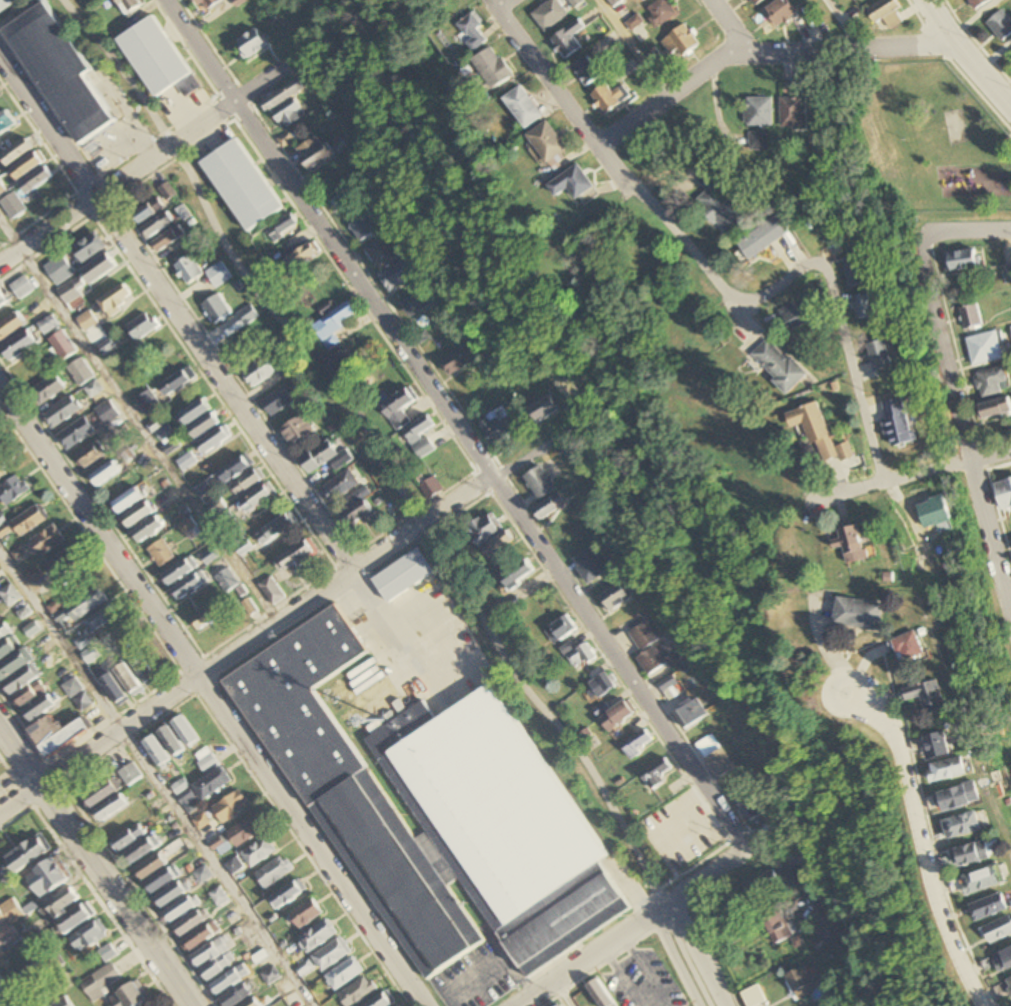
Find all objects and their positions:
building: (757, 2)
road: (498, 3)
building: (575, 3)
building: (980, 3)
building: (206, 4)
building: (6, 5)
building: (128, 5)
building: (661, 12)
building: (782, 12)
building: (887, 13)
building: (549, 14)
road: (844, 23)
road: (719, 25)
building: (471, 32)
building: (567, 40)
building: (680, 42)
building: (251, 43)
road: (631, 46)
road: (758, 50)
road: (964, 55)
building: (156, 59)
building: (492, 67)
building: (59, 72)
building: (586, 72)
building: (609, 98)
building: (285, 103)
building: (522, 107)
building: (759, 112)
building: (792, 113)
building: (5, 121)
park: (954, 126)
building: (756, 142)
park: (936, 145)
building: (548, 147)
building: (16, 152)
road: (599, 152)
building: (314, 153)
building: (27, 165)
road: (151, 167)
building: (36, 180)
building: (572, 183)
building: (241, 185)
building: (340, 195)
building: (12, 205)
building: (719, 211)
building: (147, 212)
building: (157, 226)
building: (281, 227)
building: (364, 227)
road: (969, 229)
building: (763, 237)
building: (167, 240)
building: (88, 248)
building: (381, 253)
building: (301, 256)
building: (964, 260)
building: (98, 269)
building: (58, 270)
building: (188, 271)
building: (859, 272)
building: (1006, 274)
building: (218, 275)
building: (399, 275)
building: (22, 288)
road: (774, 290)
building: (69, 294)
building: (115, 300)
building: (2, 301)
building: (418, 303)
building: (865, 306)
building: (215, 310)
road: (175, 313)
building: (795, 315)
building: (247, 316)
building: (971, 316)
building: (87, 321)
building: (48, 325)
building: (11, 326)
building: (142, 327)
building: (332, 327)
building: (1010, 327)
building: (18, 346)
building: (62, 346)
building: (985, 348)
building: (880, 355)
building: (456, 361)
building: (778, 366)
building: (286, 370)
building: (80, 373)
building: (258, 374)
road: (854, 375)
building: (992, 382)
building: (177, 383)
building: (93, 390)
building: (45, 392)
building: (278, 402)
building: (148, 404)
building: (398, 408)
building: (996, 408)
building: (543, 410)
building: (62, 413)
building: (107, 413)
building: (194, 413)
road: (959, 415)
road: (139, 418)
building: (899, 423)
road: (457, 424)
building: (204, 427)
building: (497, 427)
building: (298, 430)
building: (163, 433)
building: (818, 433)
building: (76, 434)
building: (419, 437)
building: (214, 441)
building: (89, 456)
building: (325, 459)
building: (187, 462)
building: (235, 469)
road: (500, 470)
building: (1, 474)
building: (105, 474)
road: (910, 474)
building: (247, 483)
building: (539, 483)
building: (340, 487)
building: (430, 487)
building: (13, 491)
building: (1004, 494)
road: (400, 496)
building: (257, 498)
building: (127, 501)
building: (550, 507)
building: (934, 513)
building: (356, 514)
building: (137, 516)
building: (29, 521)
building: (276, 528)
building: (147, 530)
building: (483, 530)
building: (47, 541)
building: (851, 545)
building: (498, 546)
building: (160, 553)
building: (297, 557)
building: (62, 563)
building: (589, 566)
building: (178, 571)
building: (517, 575)
building: (402, 576)
building: (225, 580)
building: (188, 586)
building: (271, 590)
building: (9, 596)
building: (615, 596)
building: (85, 604)
building: (857, 614)
building: (207, 616)
building: (99, 621)
building: (32, 629)
building: (3, 630)
building: (560, 630)
road: (390, 636)
building: (8, 647)
building: (907, 647)
building: (646, 648)
building: (90, 655)
building: (143, 669)
road: (208, 669)
building: (21, 679)
building: (127, 679)
building: (602, 685)
building: (669, 685)
building: (111, 686)
building: (72, 688)
building: (925, 695)
road: (206, 696)
building: (83, 702)
building: (39, 709)
building: (689, 713)
building: (616, 717)
building: (185, 732)
building: (55, 735)
building: (171, 742)
building: (637, 744)
building: (934, 747)
building: (156, 752)
building: (714, 756)
building: (207, 764)
building: (946, 771)
building: (656, 774)
building: (130, 775)
road: (156, 775)
building: (0, 785)
building: (212, 785)
building: (99, 795)
building: (958, 798)
building: (187, 802)
building: (748, 806)
building: (230, 808)
building: (110, 809)
building: (435, 812)
building: (200, 822)
building: (960, 827)
building: (245, 831)
building: (127, 840)
road: (925, 841)
building: (142, 851)
building: (259, 852)
building: (977, 854)
building: (26, 855)
road: (94, 866)
building: (233, 866)
building: (151, 867)
building: (274, 873)
building: (202, 875)
building: (791, 878)
building: (46, 879)
building: (161, 880)
building: (982, 882)
building: (761, 887)
building: (288, 895)
building: (169, 896)
building: (218, 898)
building: (62, 903)
building: (178, 910)
building: (988, 910)
building: (12, 911)
building: (305, 914)
building: (2, 920)
building: (74, 920)
building: (190, 923)
road: (636, 925)
building: (780, 927)
building: (997, 933)
building: (8, 937)
building: (200, 937)
building: (317, 937)
building: (88, 938)
building: (106, 953)
road: (700, 953)
building: (331, 955)
road: (679, 959)
building: (213, 960)
building: (1005, 961)
building: (52, 962)
building: (344, 974)
building: (271, 976)
building: (27, 978)
building: (229, 981)
building: (100, 982)
building: (801, 984)
building: (1008, 987)
building: (358, 992)
road: (563, 993)
building: (599, 994)
building: (129, 996)
building: (237, 996)
building: (35, 997)
building: (752, 997)
building: (384, 1001)
road: (2, 1002)
building: (61, 1002)
road: (849, 1003)
building: (557, 1005)

